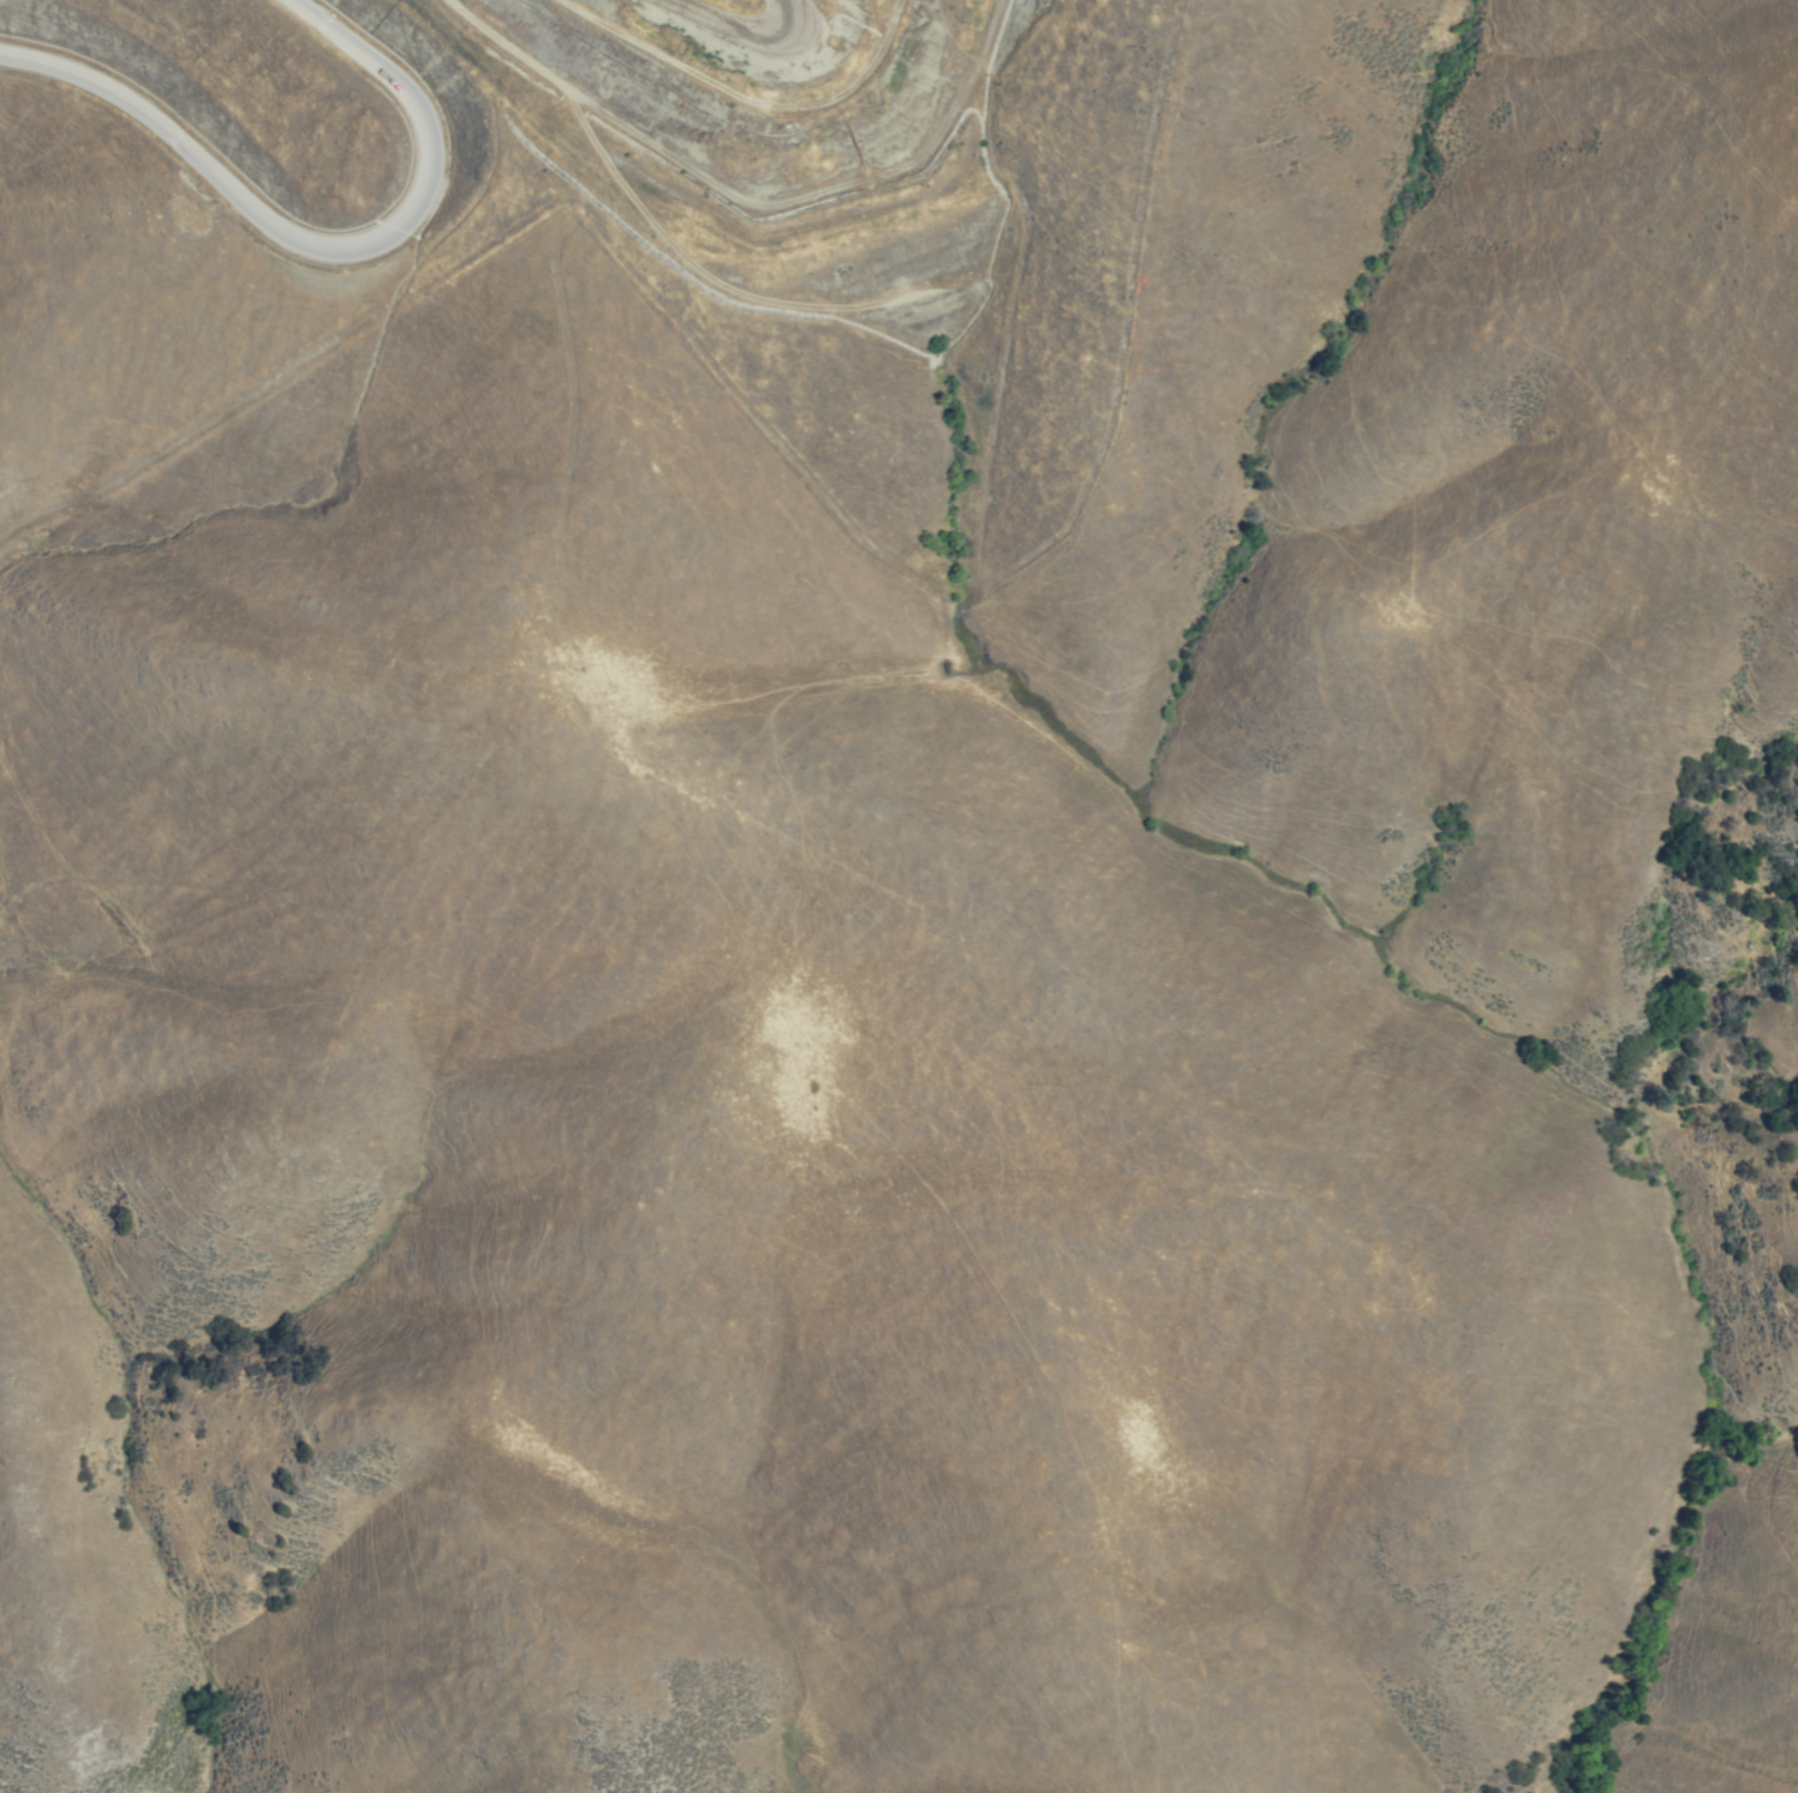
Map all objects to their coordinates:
road: (748, 42)
landfill: (769, 136)
road: (319, 239)

